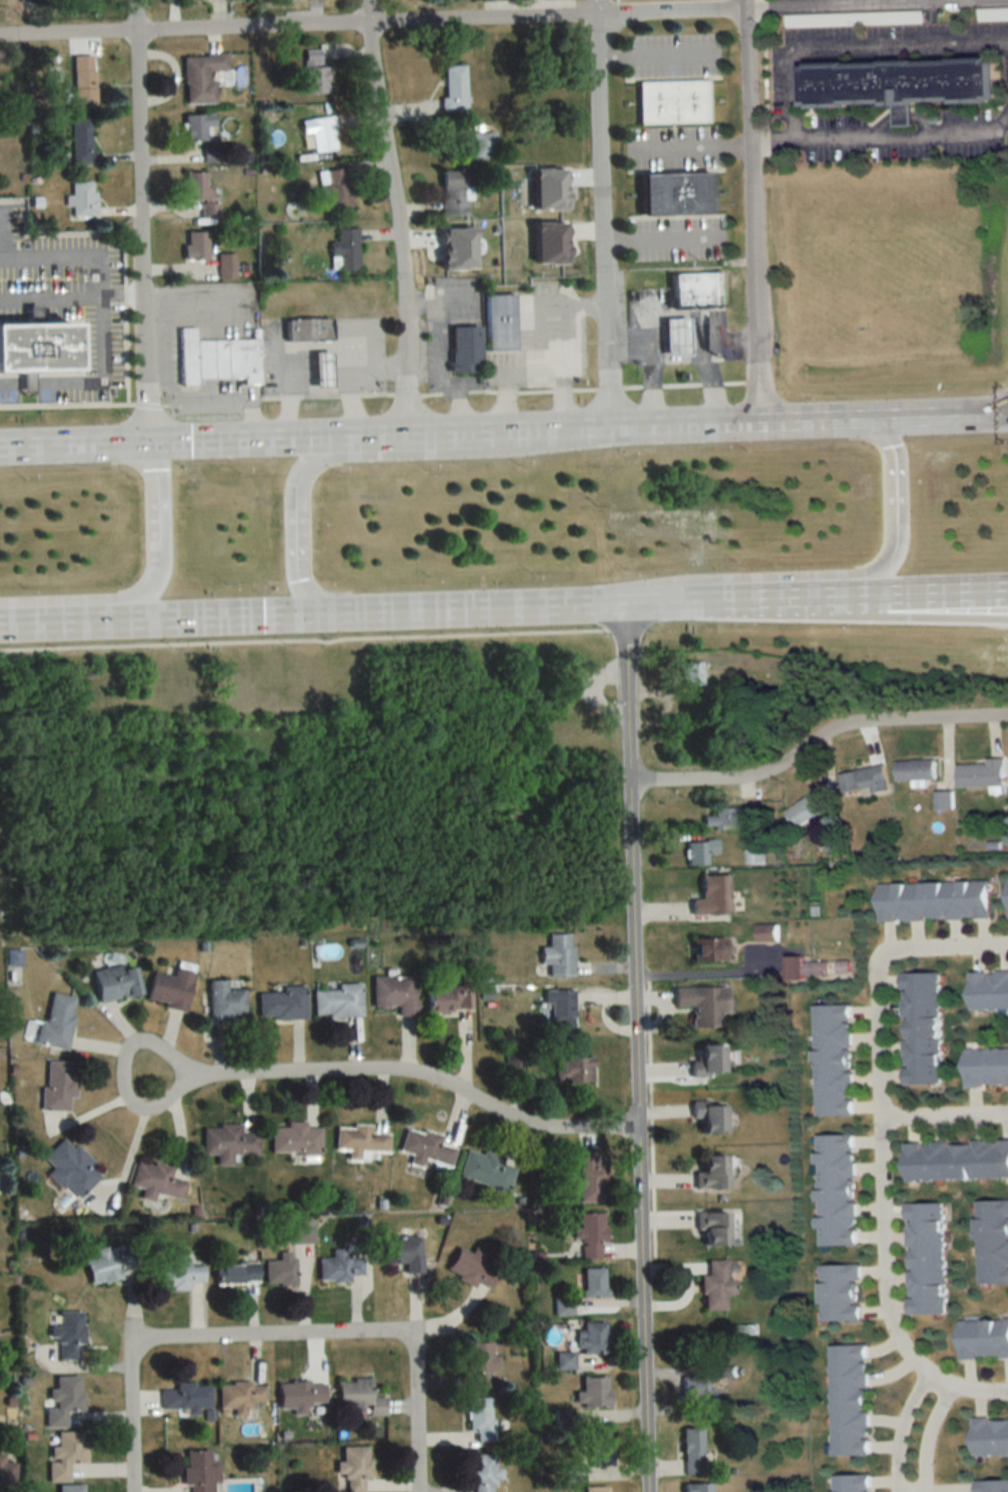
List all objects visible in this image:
road: (864, 4)
building: (849, 19)
road: (372, 22)
road: (855, 45)
road: (671, 55)
building: (312, 72)
building: (199, 76)
building: (82, 80)
building: (898, 85)
building: (453, 89)
building: (671, 103)
building: (195, 125)
building: (318, 132)
road: (883, 134)
building: (81, 140)
building: (482, 145)
road: (674, 147)
building: (196, 185)
building: (333, 187)
building: (451, 191)
building: (674, 192)
building: (82, 198)
road: (749, 210)
road: (602, 211)
road: (395, 215)
road: (141, 219)
road: (676, 238)
building: (195, 244)
building: (343, 249)
building: (225, 265)
building: (697, 289)
road: (72, 297)
road: (103, 300)
road: (439, 301)
road: (199, 302)
road: (539, 305)
building: (498, 321)
building: (305, 328)
building: (675, 334)
road: (676, 338)
road: (635, 339)
road: (724, 342)
road: (441, 343)
building: (462, 344)
building: (35, 345)
road: (278, 348)
building: (217, 356)
building: (319, 367)
building: (537, 368)
road: (539, 369)
road: (315, 372)
road: (709, 376)
road: (651, 381)
road: (9, 384)
traffic signals: (148, 395)
road: (562, 397)
road: (180, 401)
road: (350, 402)
road: (456, 405)
road: (941, 413)
road: (741, 420)
road: (470, 429)
road: (165, 438)
traffic signals: (190, 438)
road: (309, 459)
traffic signals: (156, 468)
road: (157, 499)
road: (896, 508)
road: (296, 553)
traffic signals: (299, 578)
road: (950, 589)
road: (146, 591)
road: (874, 591)
road: (774, 595)
road: (659, 600)
road: (950, 600)
road: (374, 609)
traffic signals: (263, 612)
road: (61, 618)
road: (312, 637)
building: (688, 673)
road: (814, 739)
building: (914, 771)
building: (980, 773)
building: (863, 779)
building: (942, 799)
building: (804, 810)
building: (723, 817)
building: (699, 851)
building: (1007, 892)
building: (712, 895)
building: (932, 900)
building: (765, 932)
road: (938, 946)
building: (708, 950)
building: (557, 954)
building: (804, 967)
road: (710, 972)
building: (114, 983)
building: (169, 989)
building: (988, 989)
building: (394, 993)
building: (447, 999)
building: (337, 1001)
building: (225, 1002)
building: (282, 1004)
building: (702, 1004)
building: (559, 1011)
building: (56, 1021)
building: (920, 1027)
road: (634, 1046)
building: (832, 1059)
building: (707, 1060)
building: (514, 1066)
building: (986, 1067)
road: (421, 1069)
building: (570, 1069)
road: (124, 1072)
building: (58, 1086)
road: (943, 1114)
building: (708, 1115)
building: (294, 1138)
building: (361, 1141)
building: (226, 1142)
building: (425, 1149)
building: (955, 1160)
building: (70, 1168)
road: (880, 1168)
building: (485, 1170)
building: (710, 1172)
building: (587, 1176)
building: (155, 1181)
building: (834, 1189)
building: (711, 1227)
building: (301, 1232)
building: (590, 1234)
building: (992, 1241)
building: (403, 1252)
building: (924, 1258)
building: (107, 1265)
building: (338, 1267)
building: (470, 1267)
building: (279, 1270)
building: (177, 1273)
building: (235, 1273)
building: (593, 1282)
building: (715, 1285)
building: (838, 1293)
building: (67, 1335)
road: (276, 1337)
building: (592, 1337)
building: (982, 1338)
building: (478, 1364)
road: (958, 1384)
building: (698, 1390)
building: (591, 1392)
building: (299, 1394)
building: (185, 1395)
building: (239, 1396)
building: (358, 1397)
building: (848, 1399)
building: (63, 1400)
building: (479, 1419)
road: (898, 1426)
road: (924, 1433)
building: (989, 1436)
building: (598, 1448)
building: (691, 1451)
building: (65, 1454)
building: (353, 1468)
building: (2, 1470)
building: (199, 1470)
building: (481, 1472)
building: (850, 1483)
building: (992, 1486)
building: (71, 1488)
building: (697, 1488)
building: (595, 1489)
road: (907, 1490)

